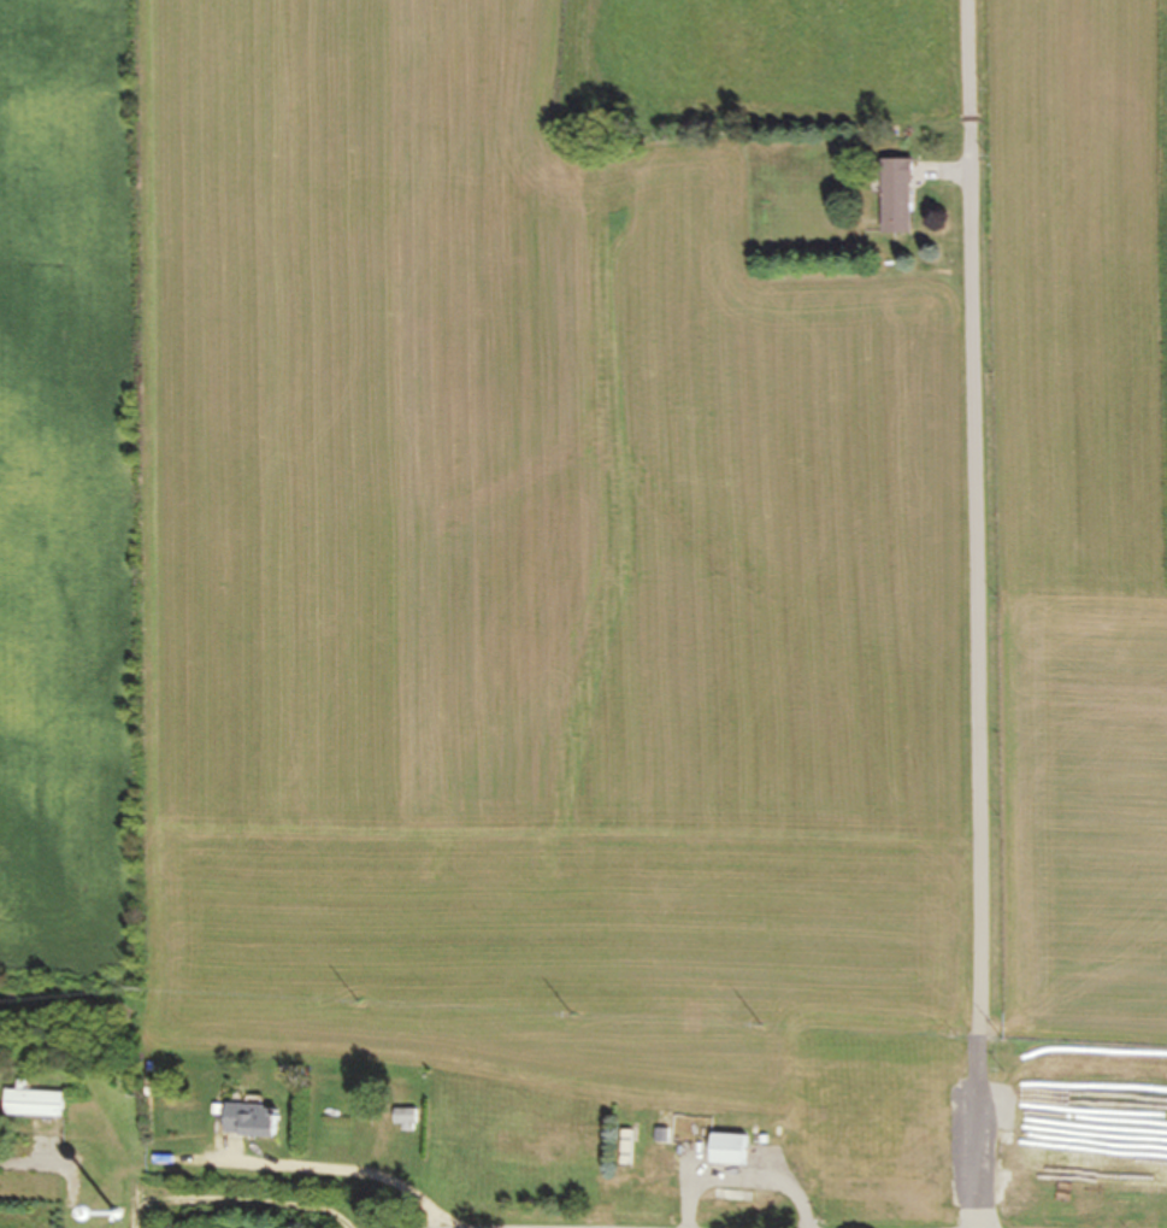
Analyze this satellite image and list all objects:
building: (896, 198)
road: (971, 613)
building: (31, 1101)
building: (405, 1120)
building: (249, 1121)
building: (726, 1150)
road: (33, 1159)
water tower: (114, 1216)

